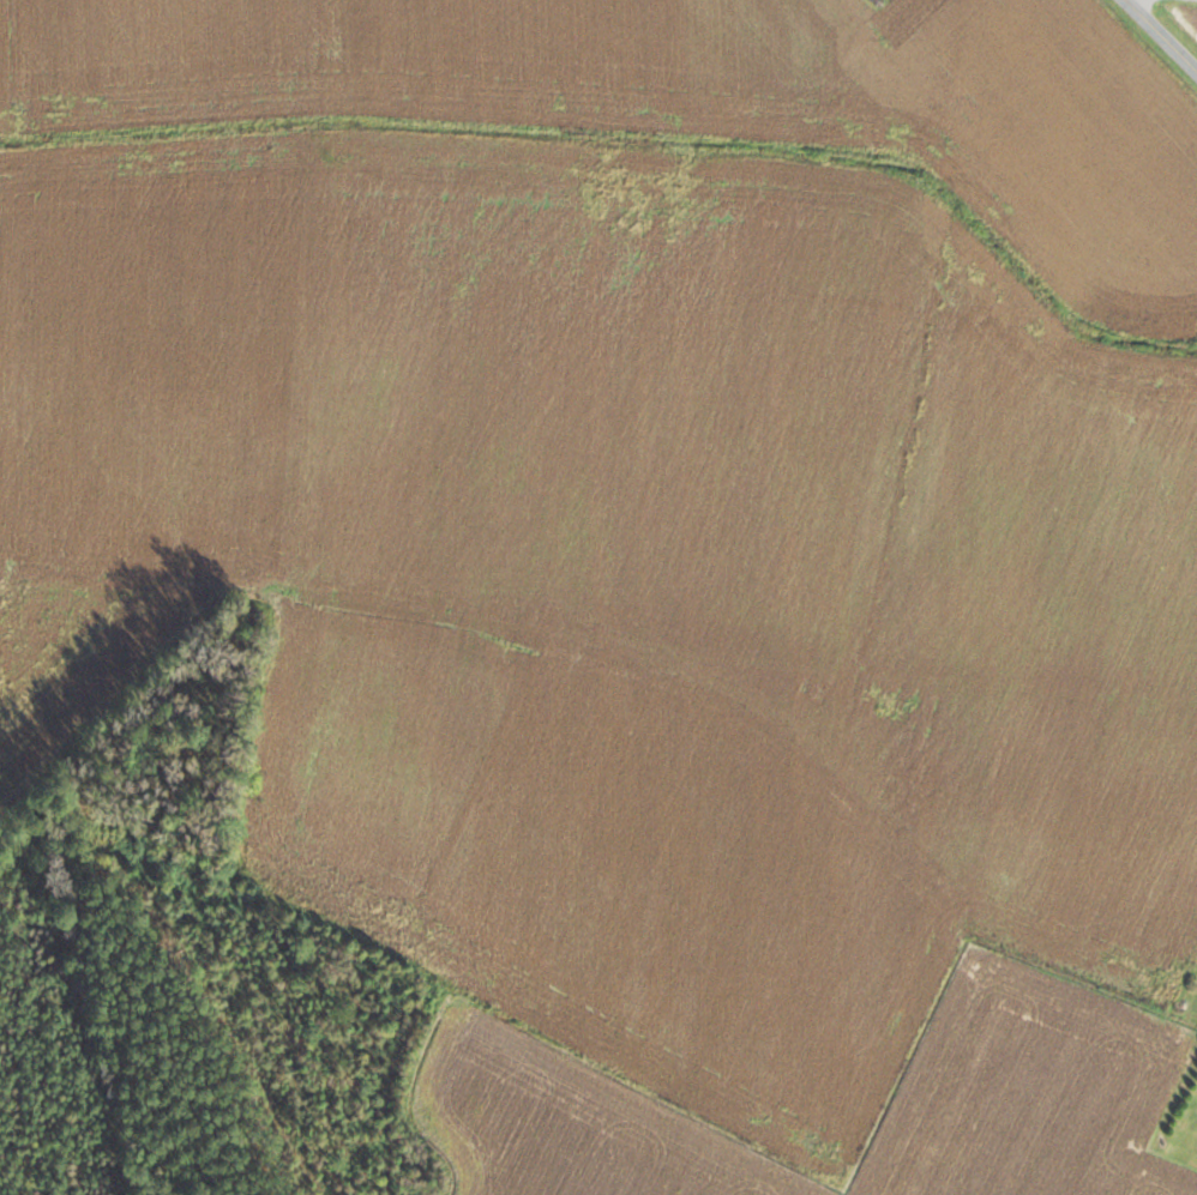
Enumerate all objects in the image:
road: (1132, 0)
road: (1162, 36)

